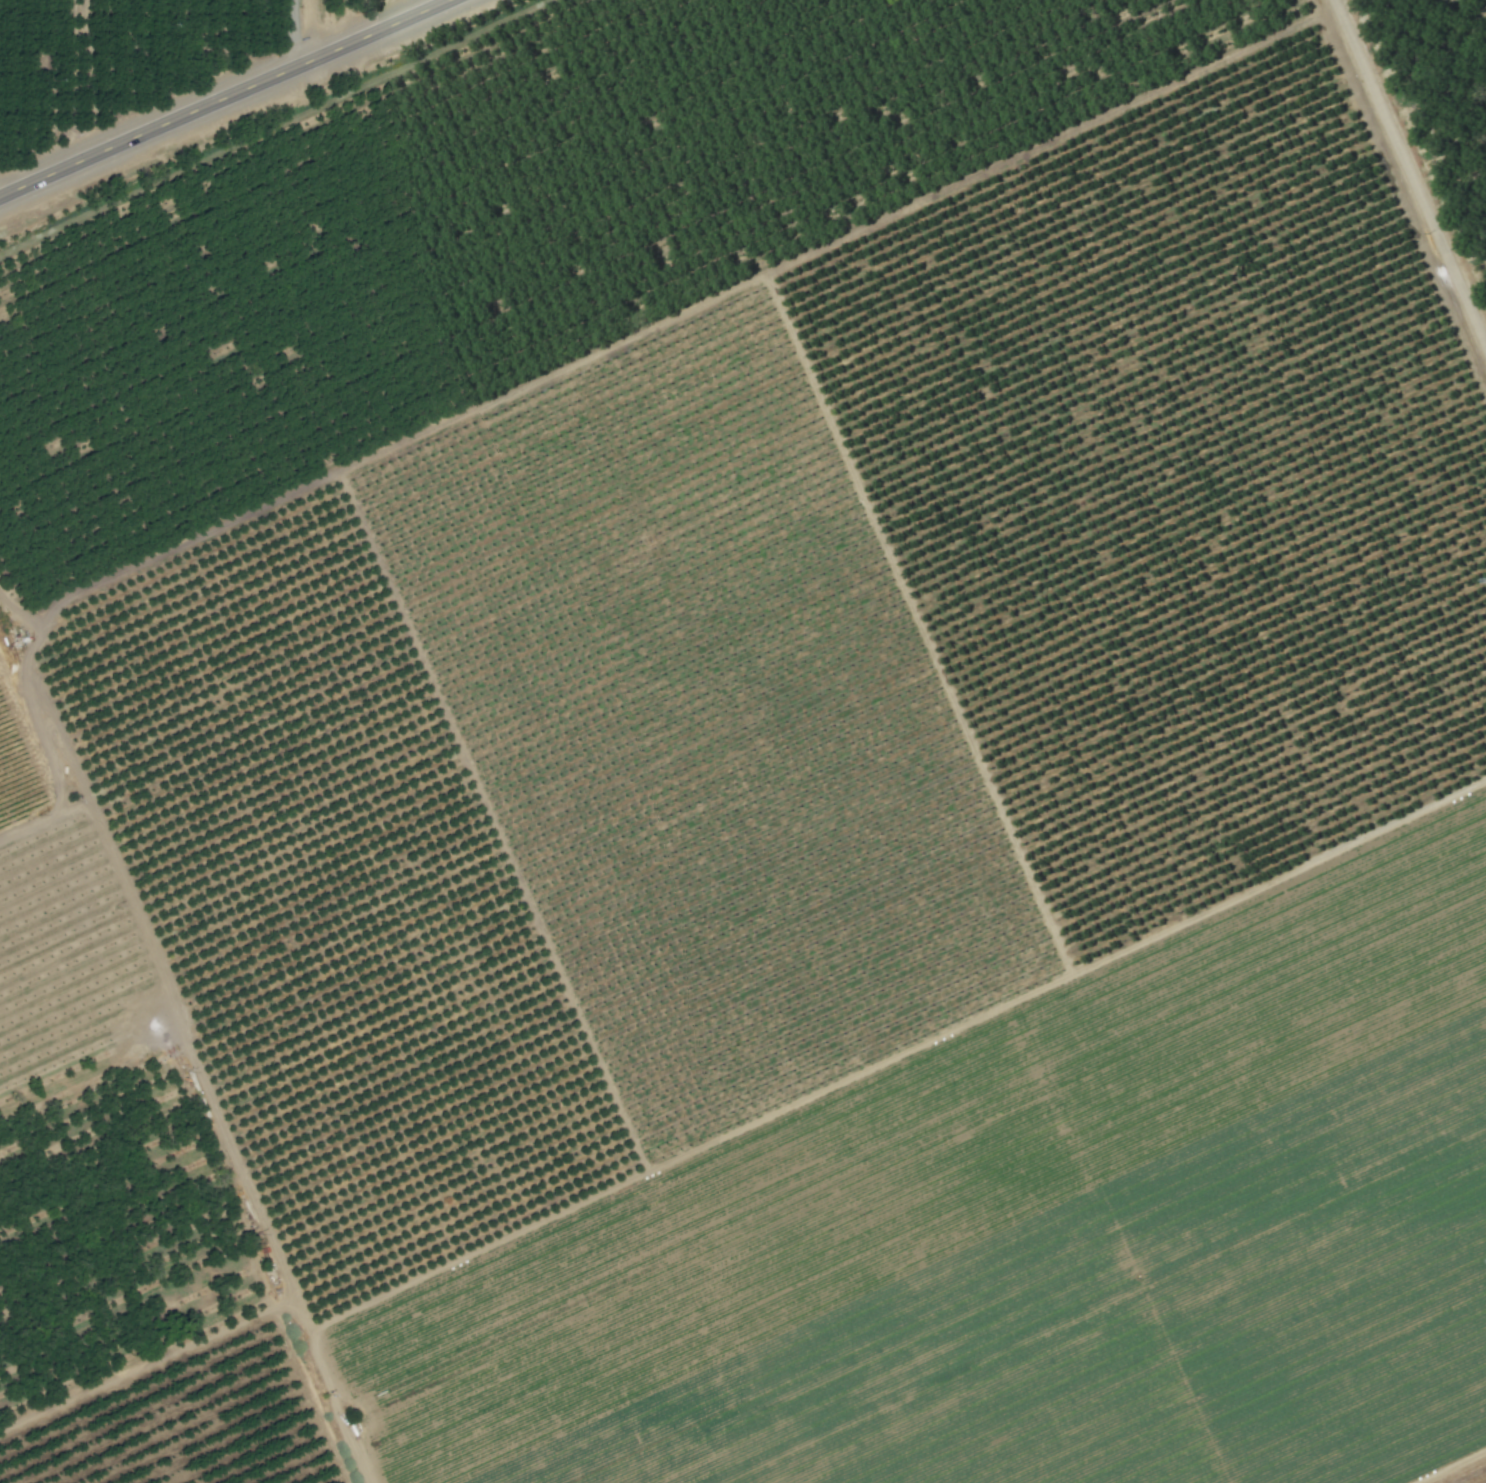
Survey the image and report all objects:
road: (295, 33)
road: (222, 98)
road: (1409, 175)
road: (595, 354)
road: (75, 793)
road: (208, 1106)
road: (1450, 1466)

